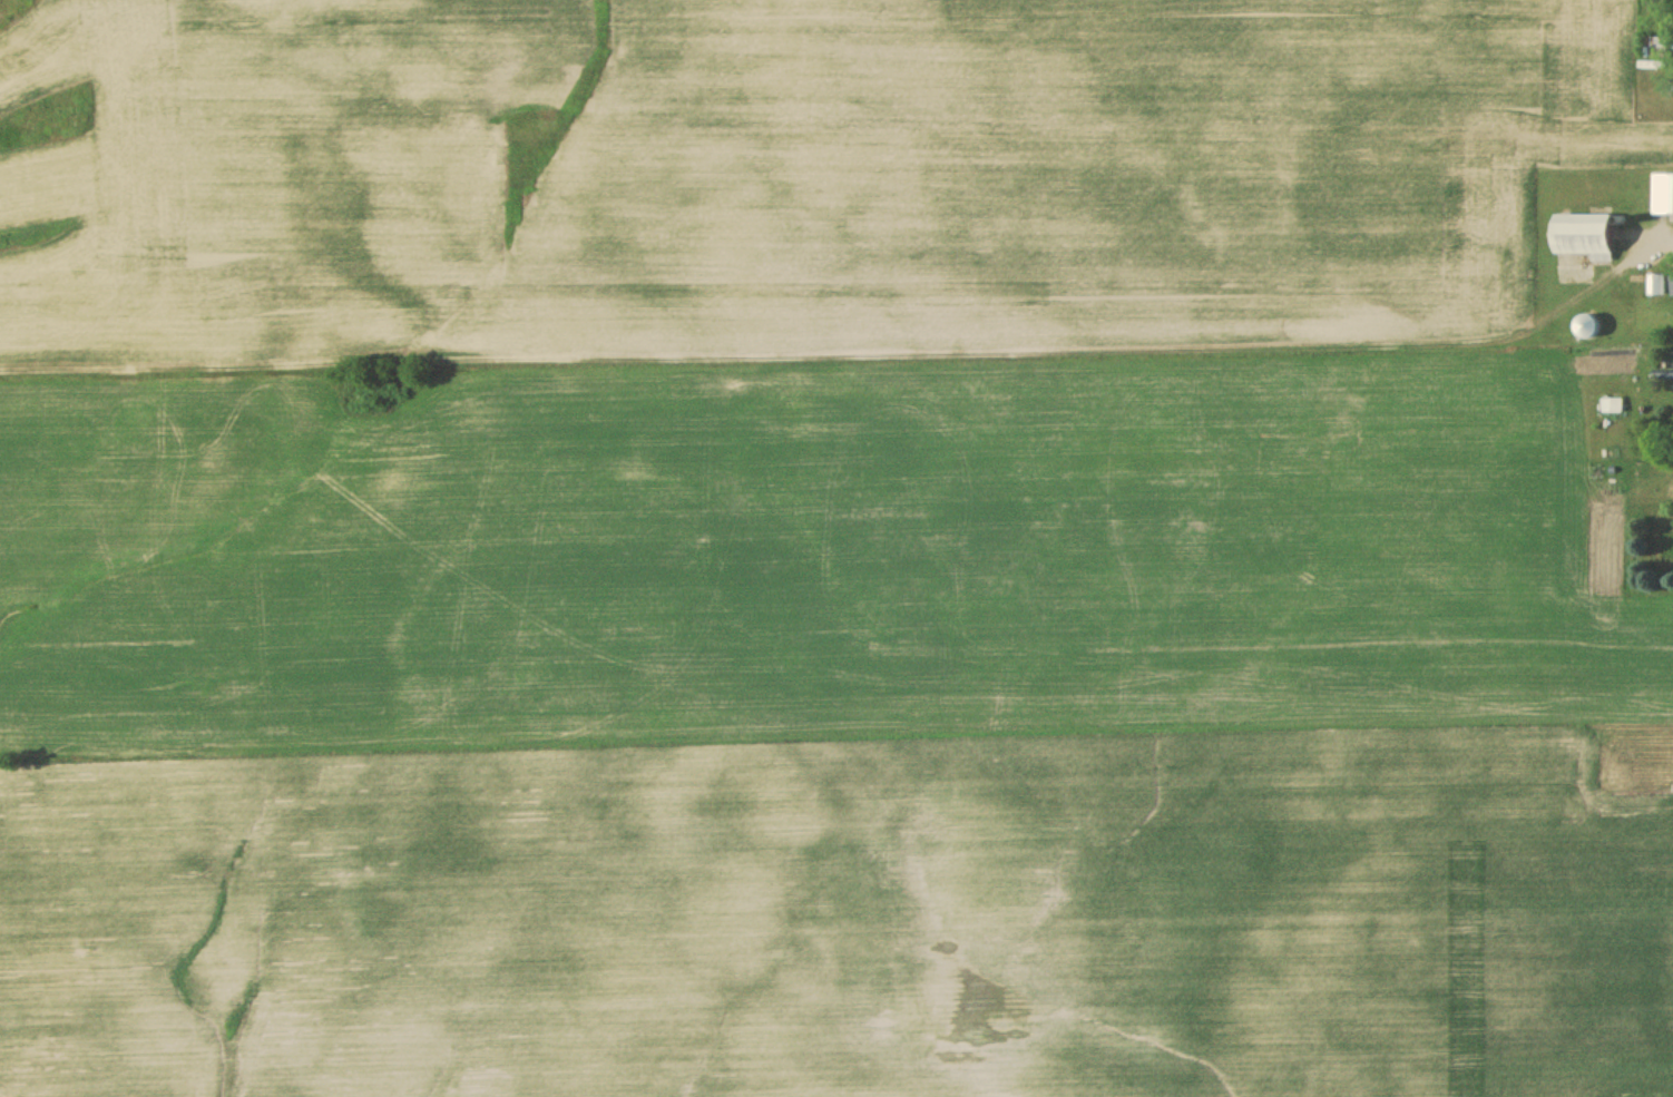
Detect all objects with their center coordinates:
building: (1654, 46)
building: (1662, 193)
road: (1667, 234)
building: (1581, 235)
building: (1653, 284)
building: (1584, 325)

